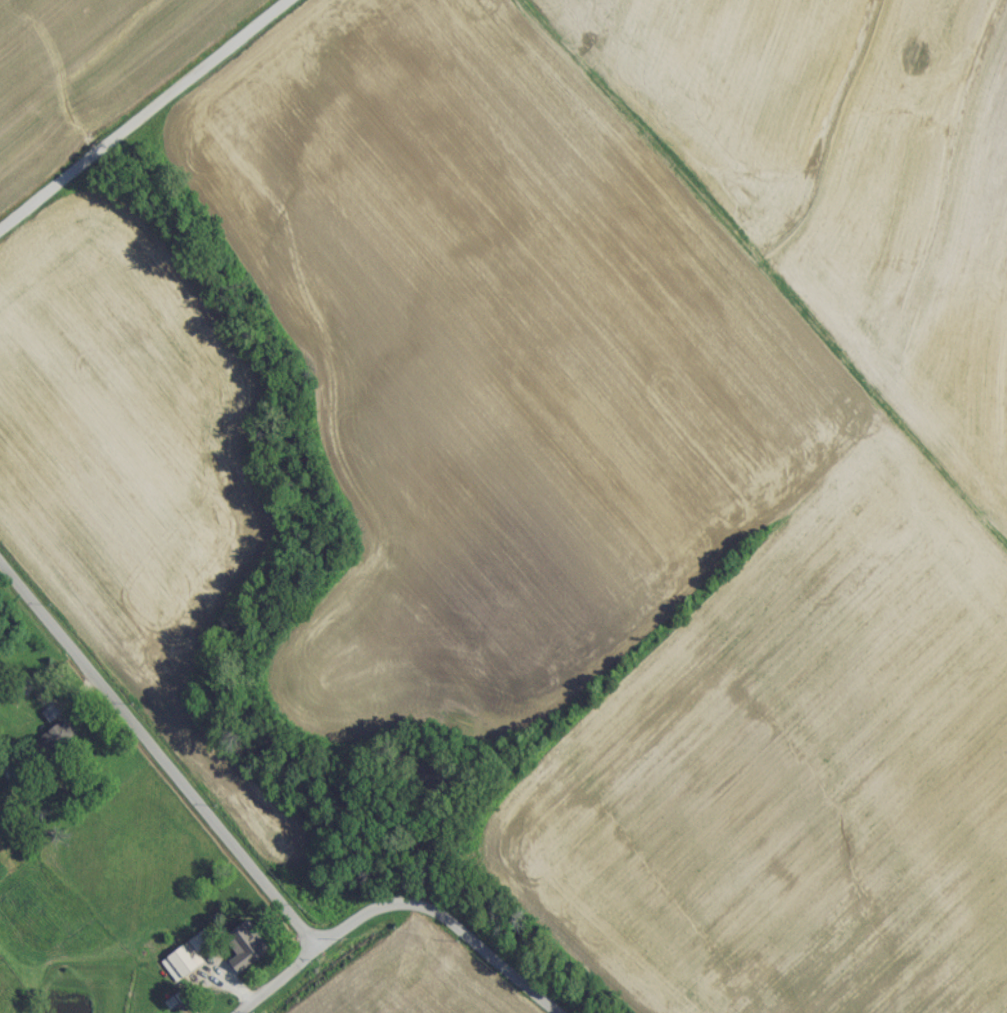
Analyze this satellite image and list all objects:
road: (134, 108)
road: (159, 751)
road: (445, 920)
building: (179, 968)
road: (277, 980)

